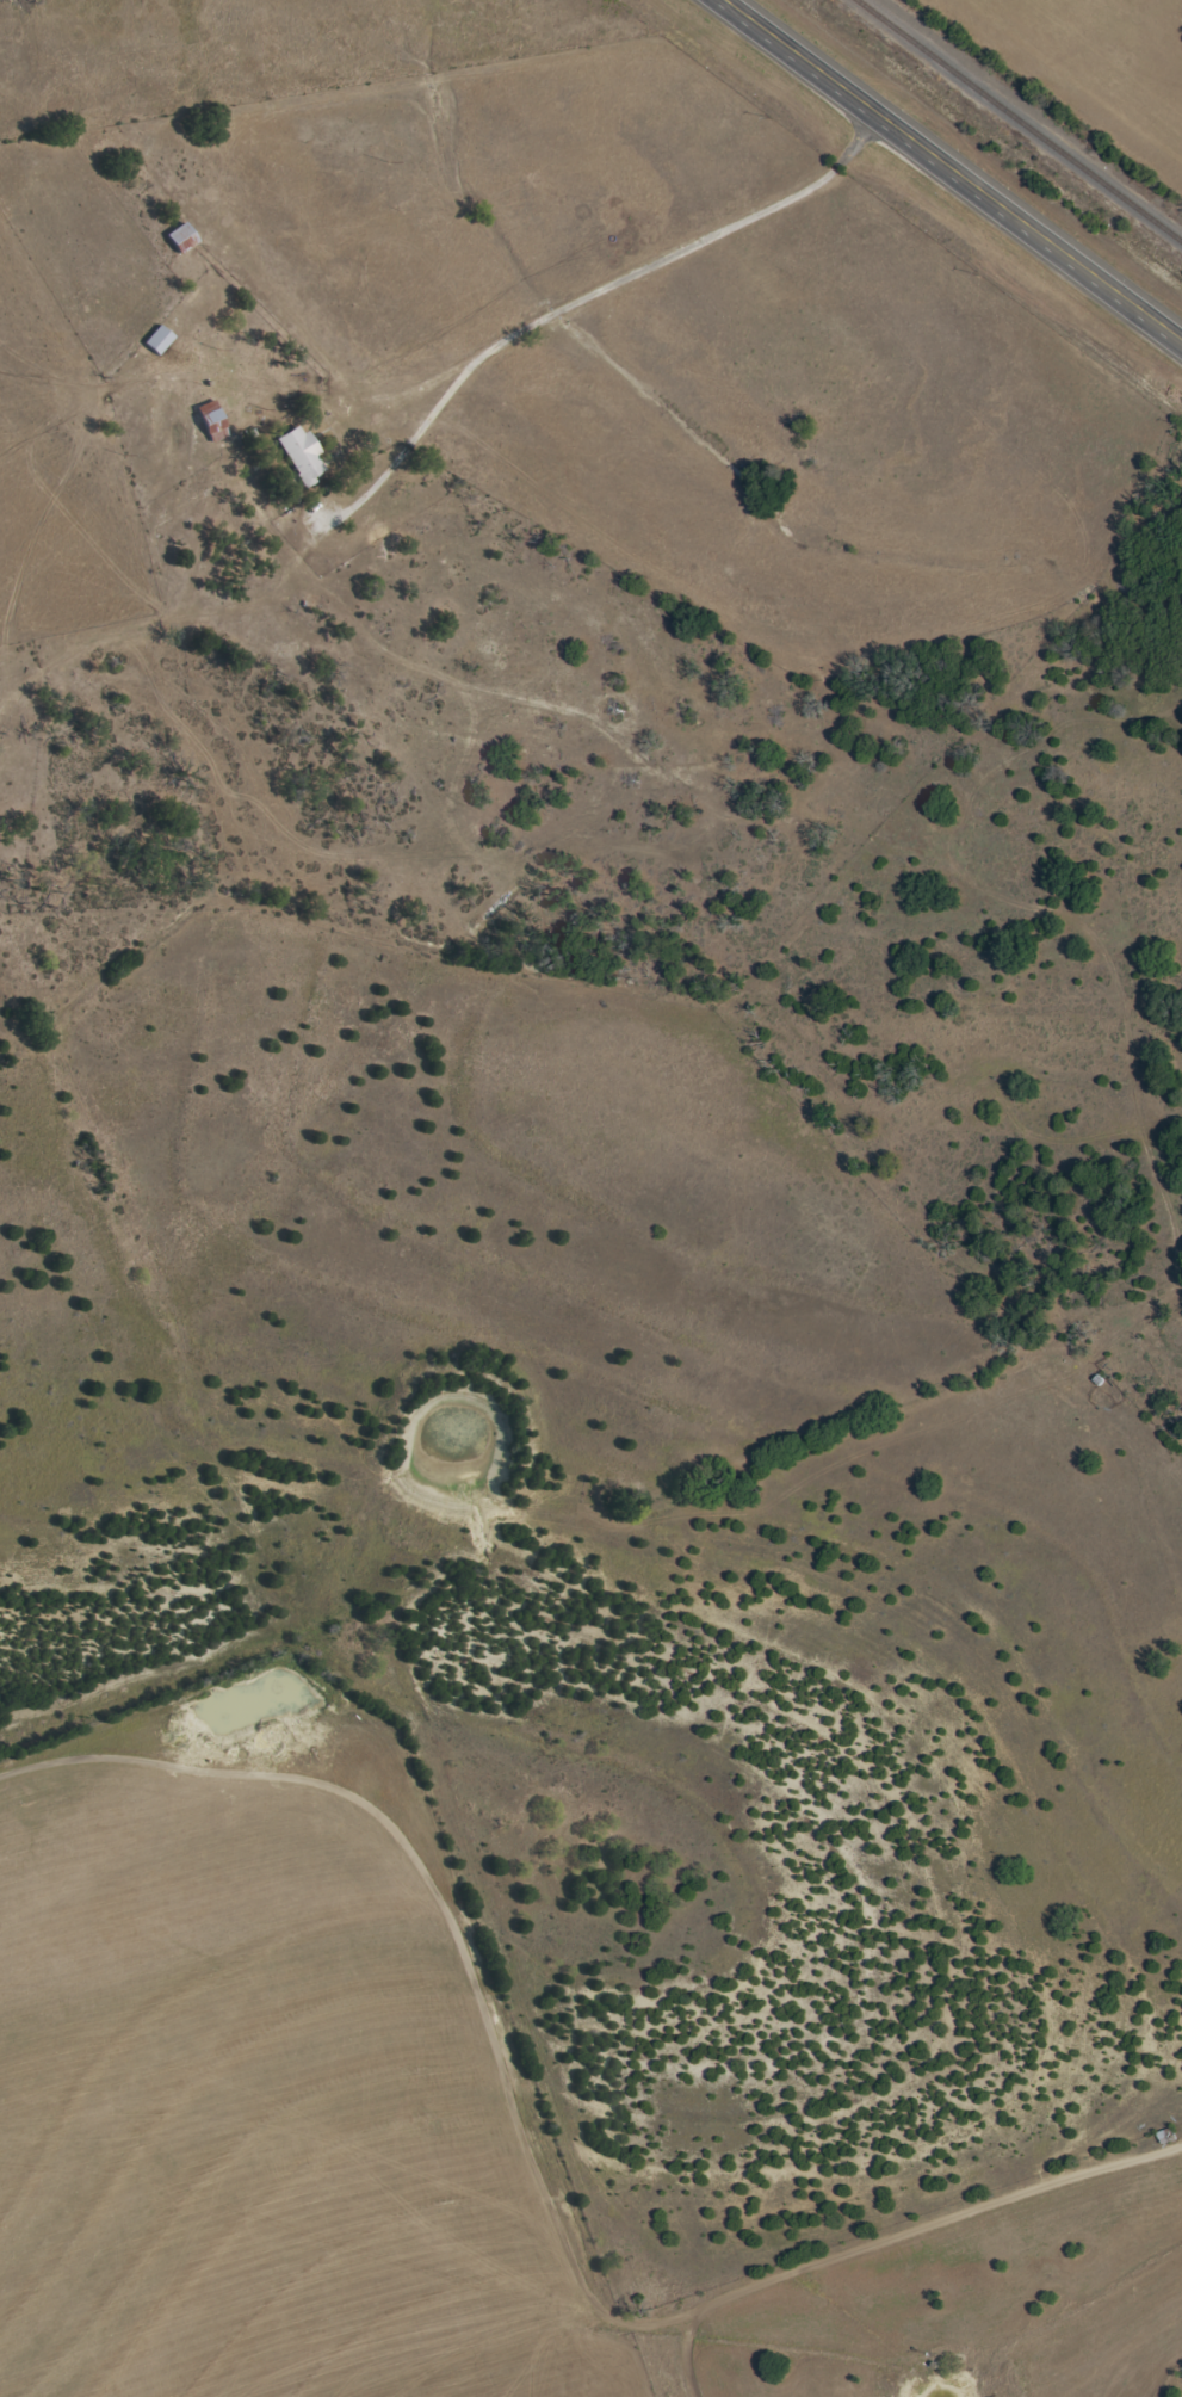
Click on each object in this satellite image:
railway: (1019, 121)
road: (953, 168)
building: (179, 236)
road: (582, 298)
building: (156, 339)
building: (209, 420)
building: (299, 455)
road: (165, 619)

